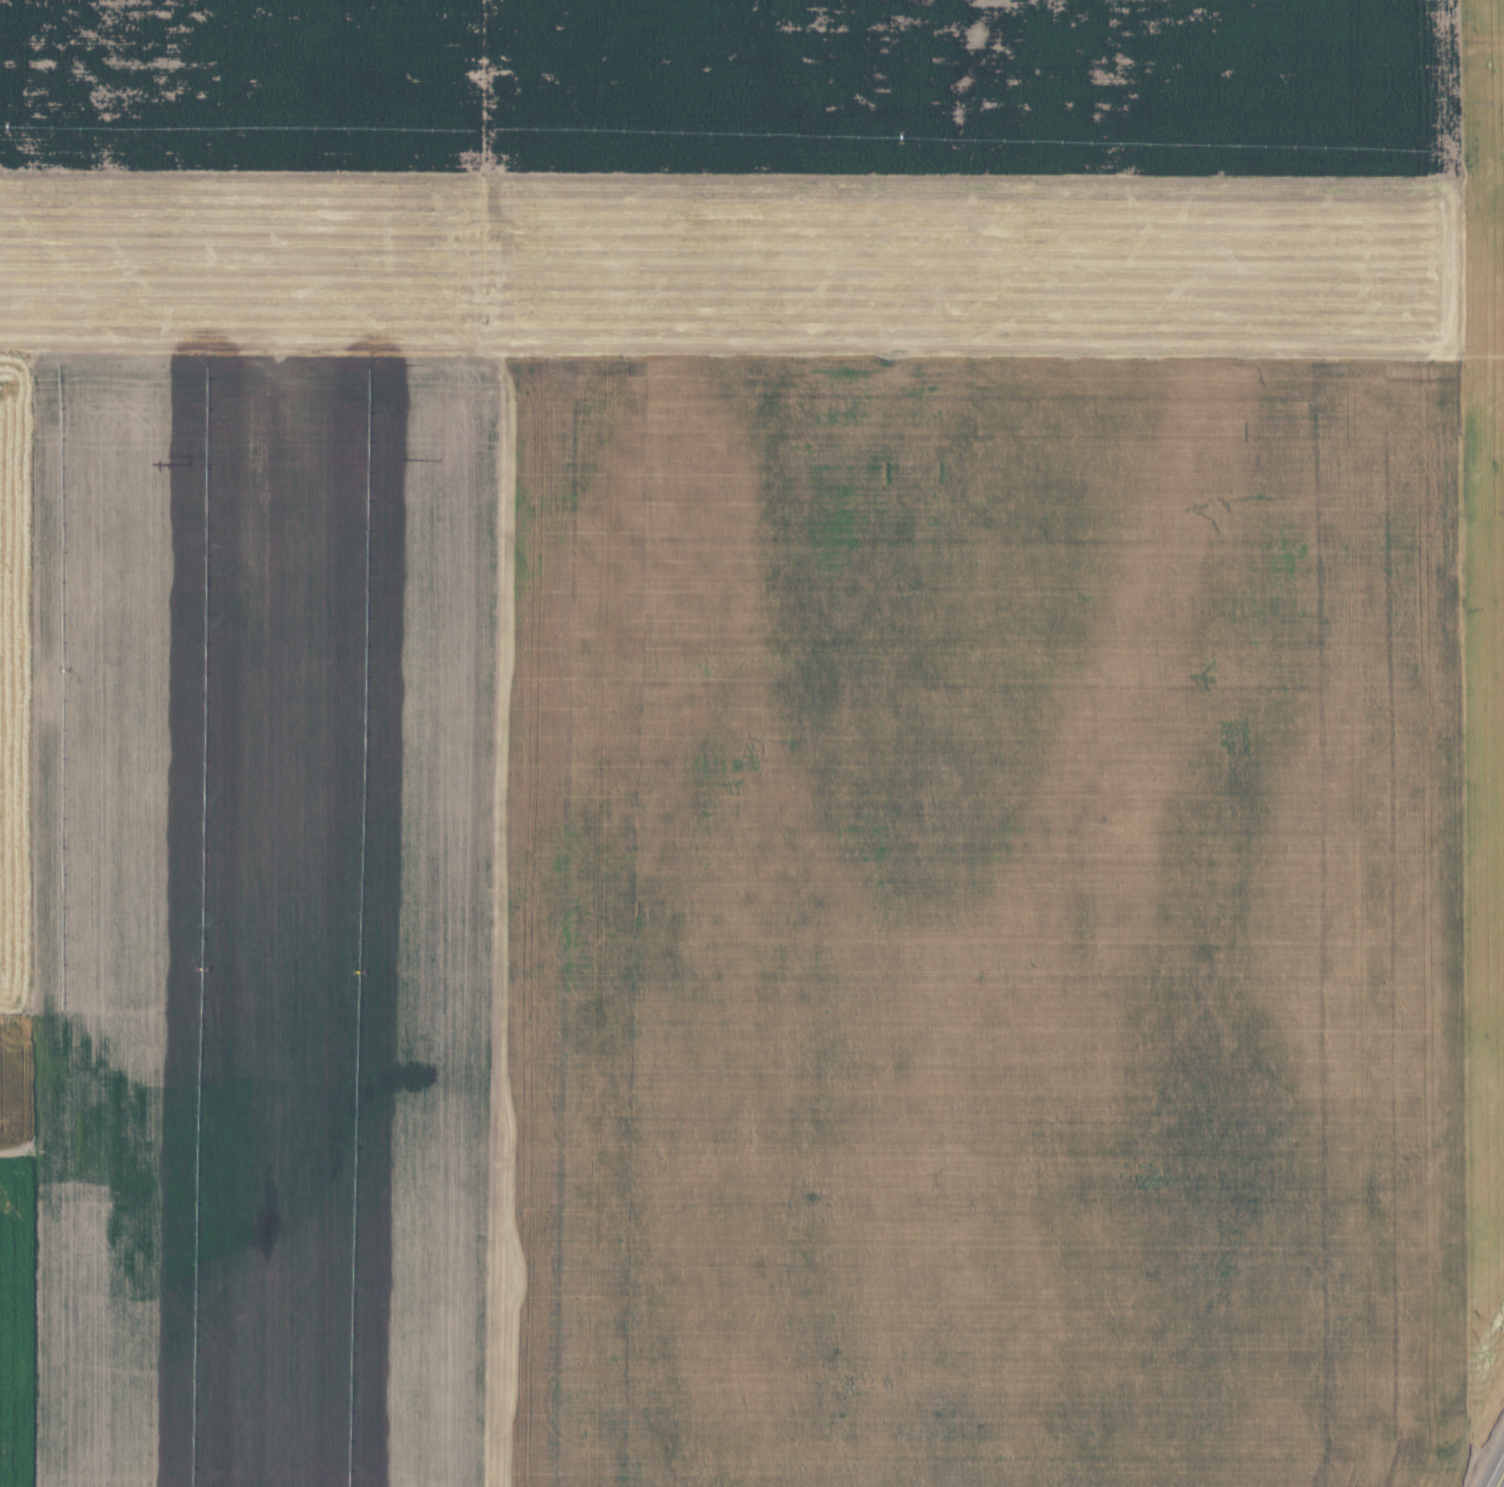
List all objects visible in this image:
building: (47, 685)
road: (1499, 1478)

